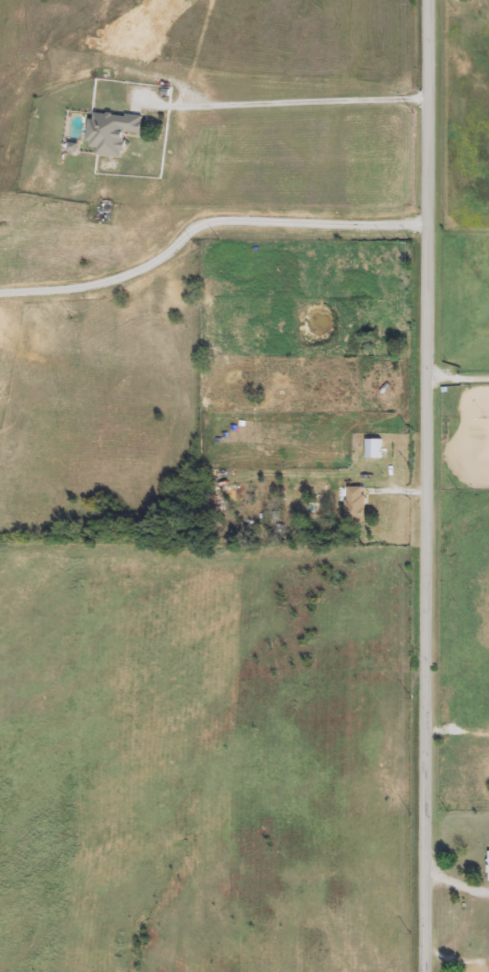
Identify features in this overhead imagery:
road: (302, 108)
building: (114, 133)
road: (457, 379)
building: (376, 448)
road: (424, 485)
building: (357, 505)

